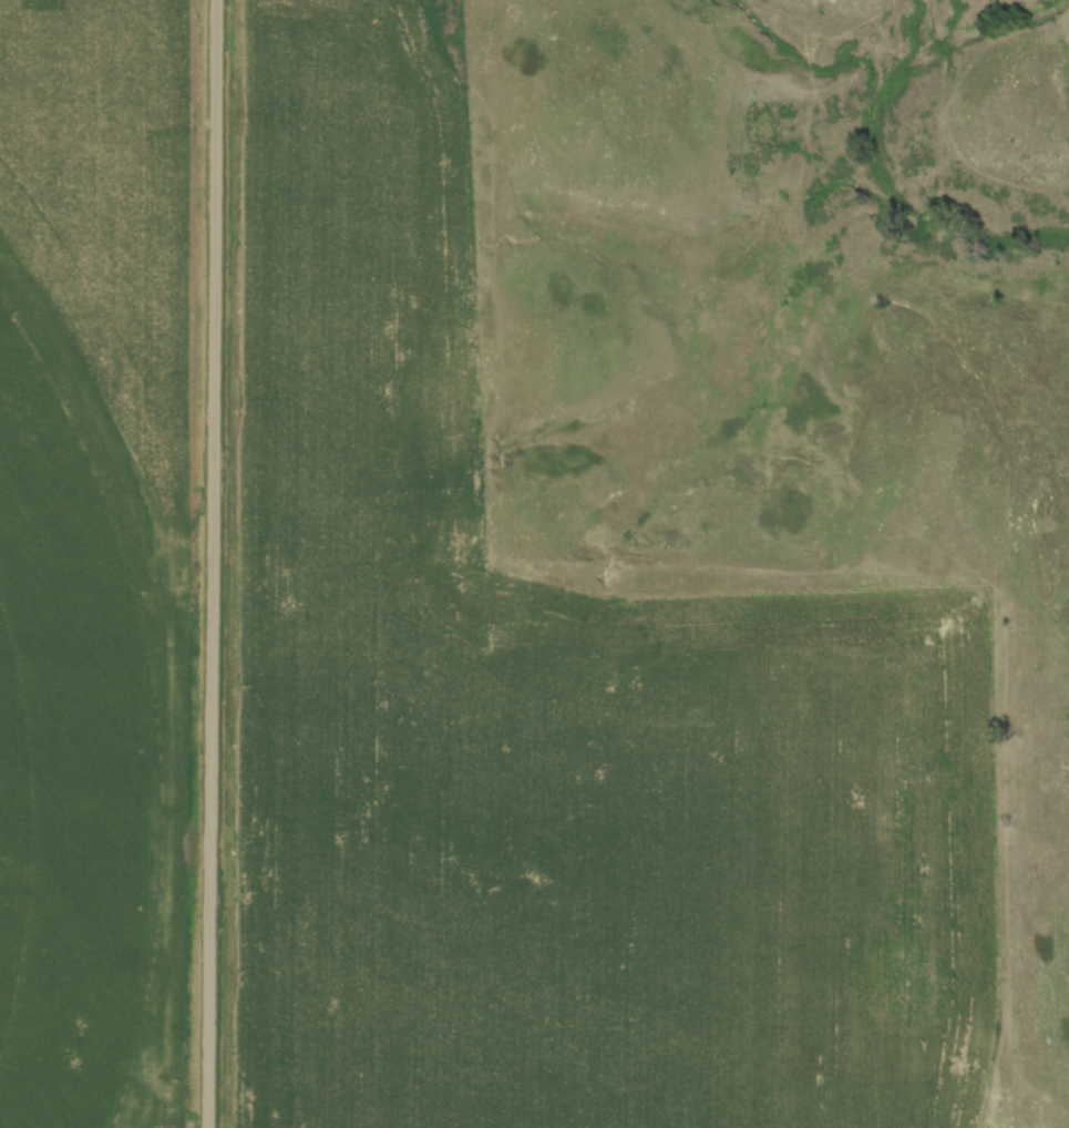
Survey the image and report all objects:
road: (215, 564)
crop: (78, 759)

